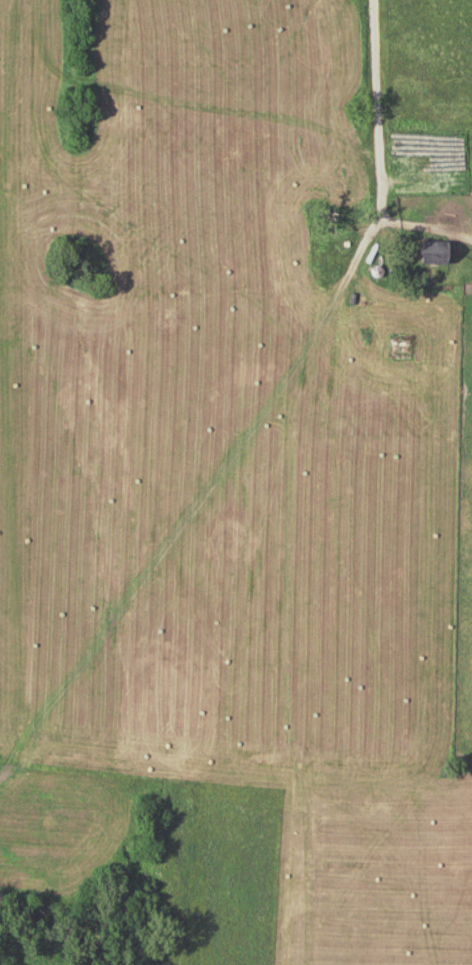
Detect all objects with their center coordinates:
road: (382, 97)
building: (440, 252)
building: (171, 316)
building: (403, 347)

